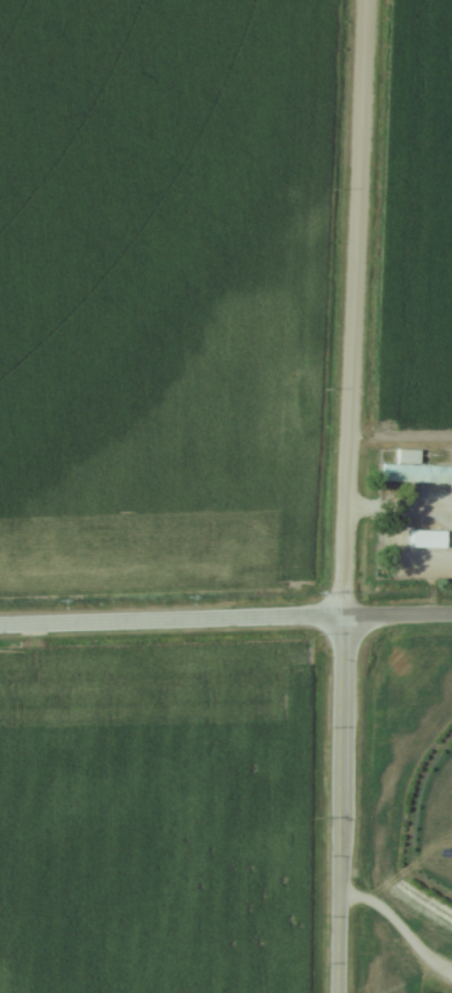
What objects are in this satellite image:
road: (354, 307)
building: (415, 469)
road: (399, 511)
building: (430, 538)
road: (397, 613)
road: (171, 619)
road: (340, 803)
crop: (157, 817)

